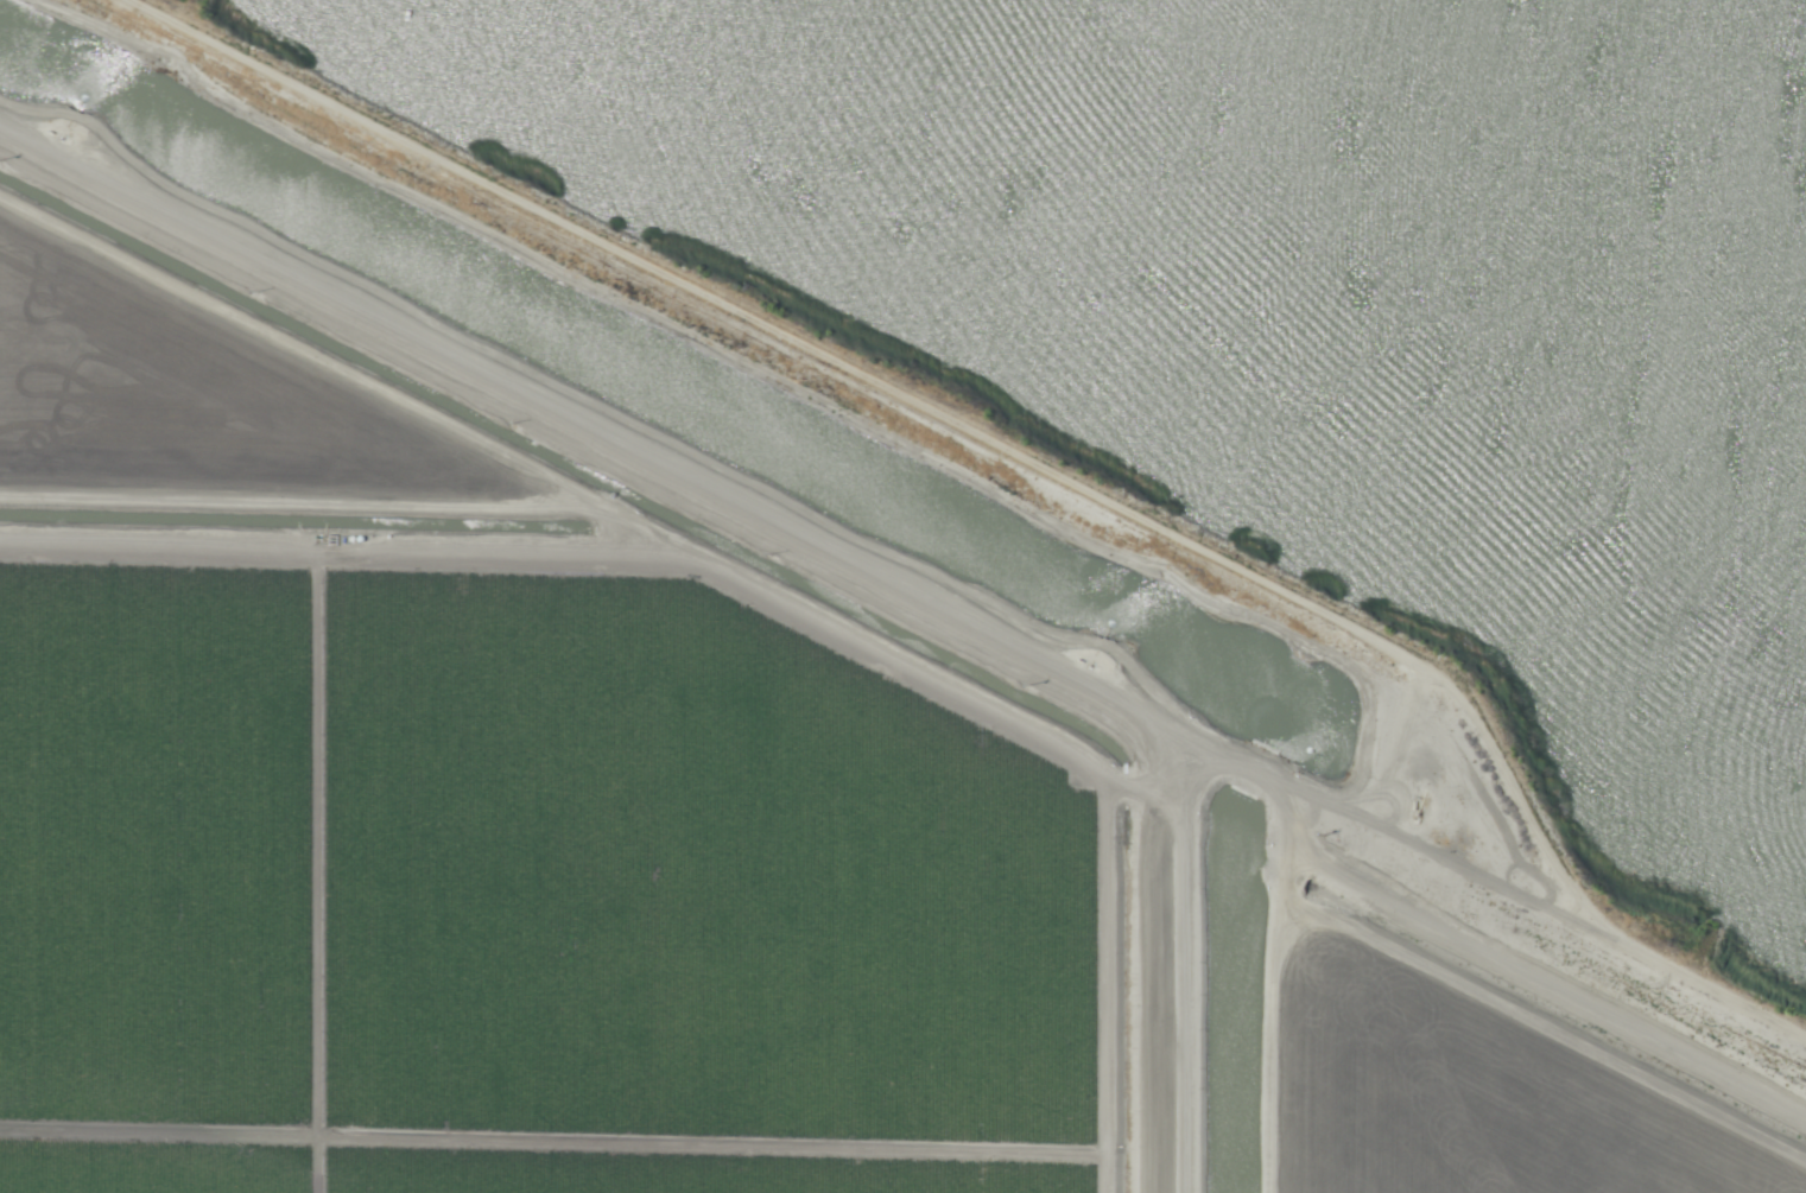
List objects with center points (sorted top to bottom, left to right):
crop: (716, 802)

